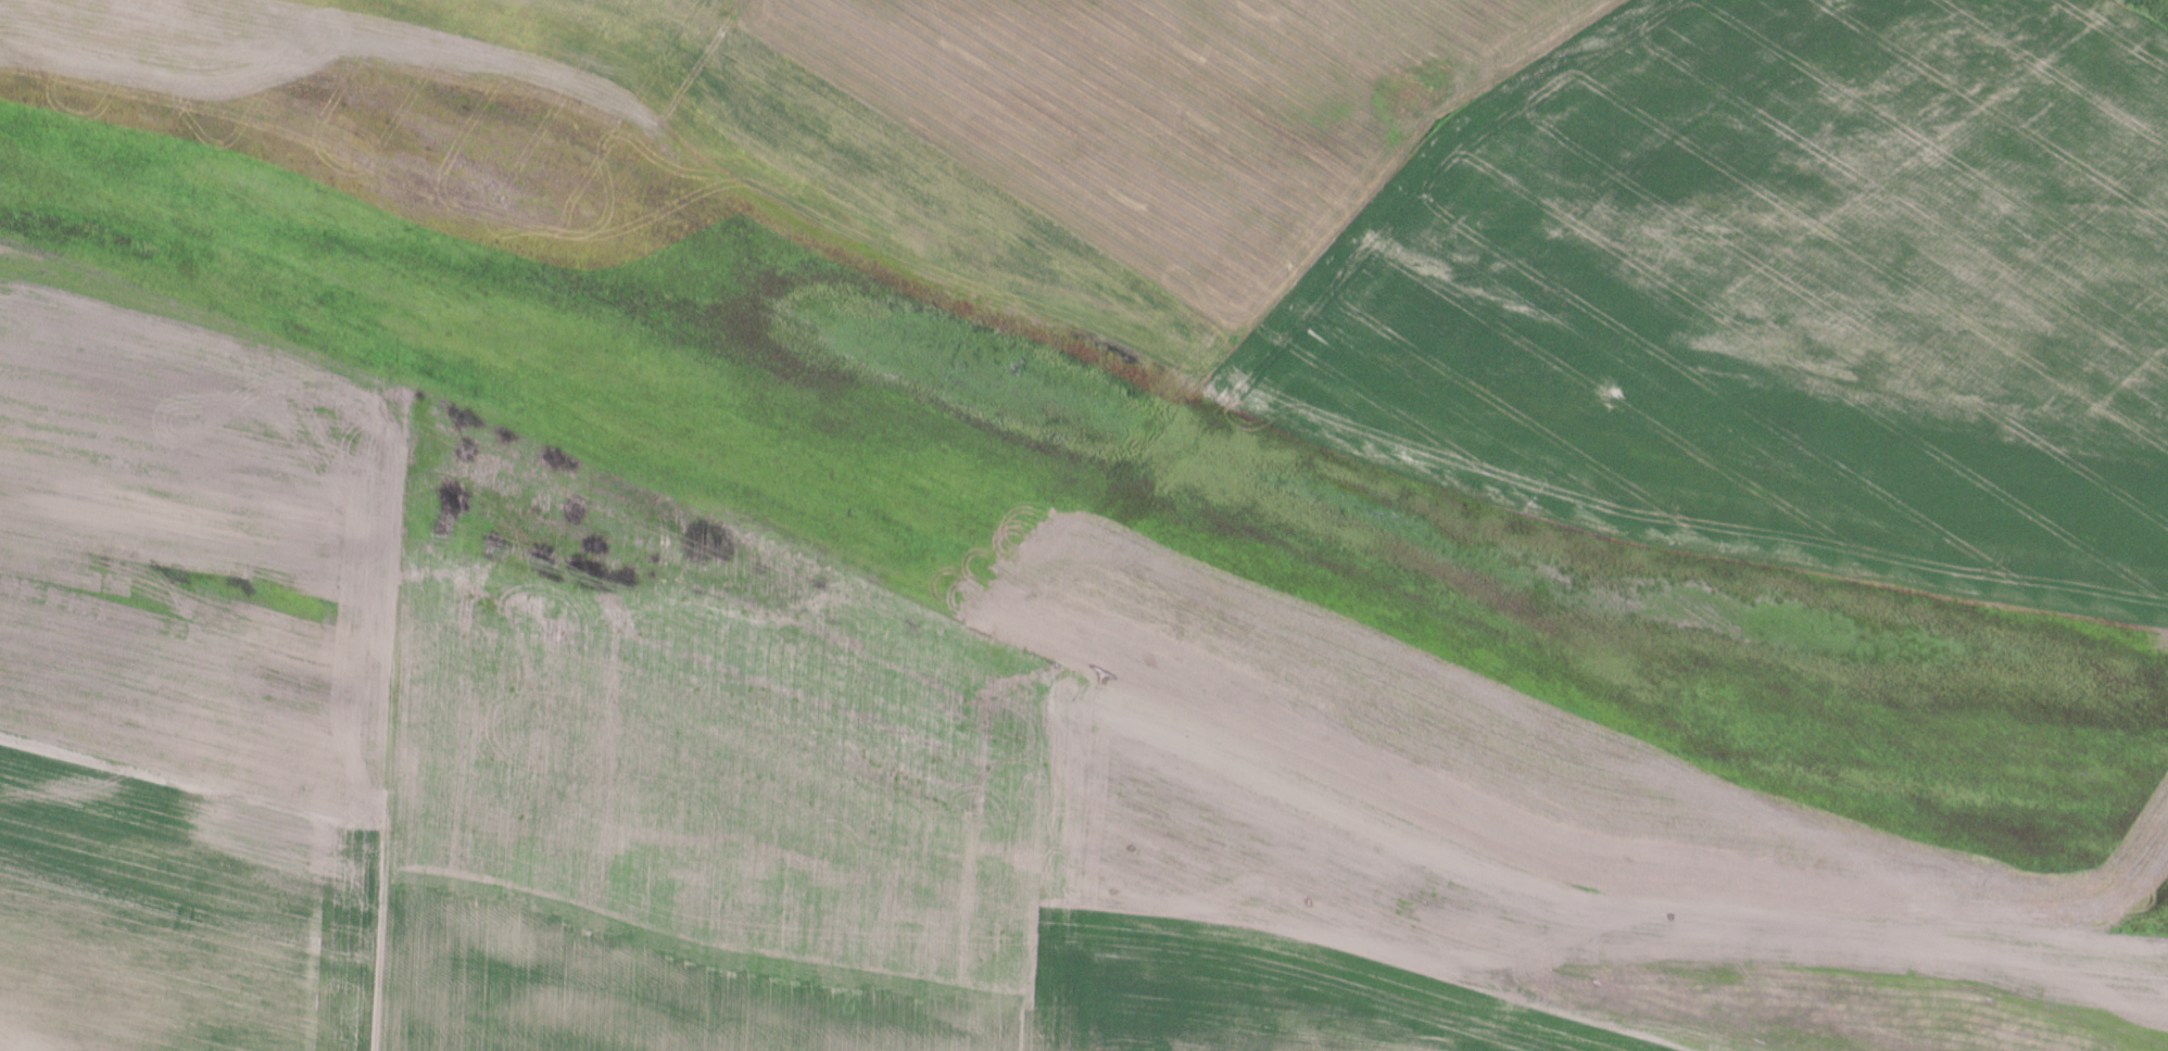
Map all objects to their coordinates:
crop: (2123, 1)
crop: (1180, 112)
crop: (1791, 280)
crop: (1624, 678)
crop: (2146, 902)
crop: (1490, 935)

